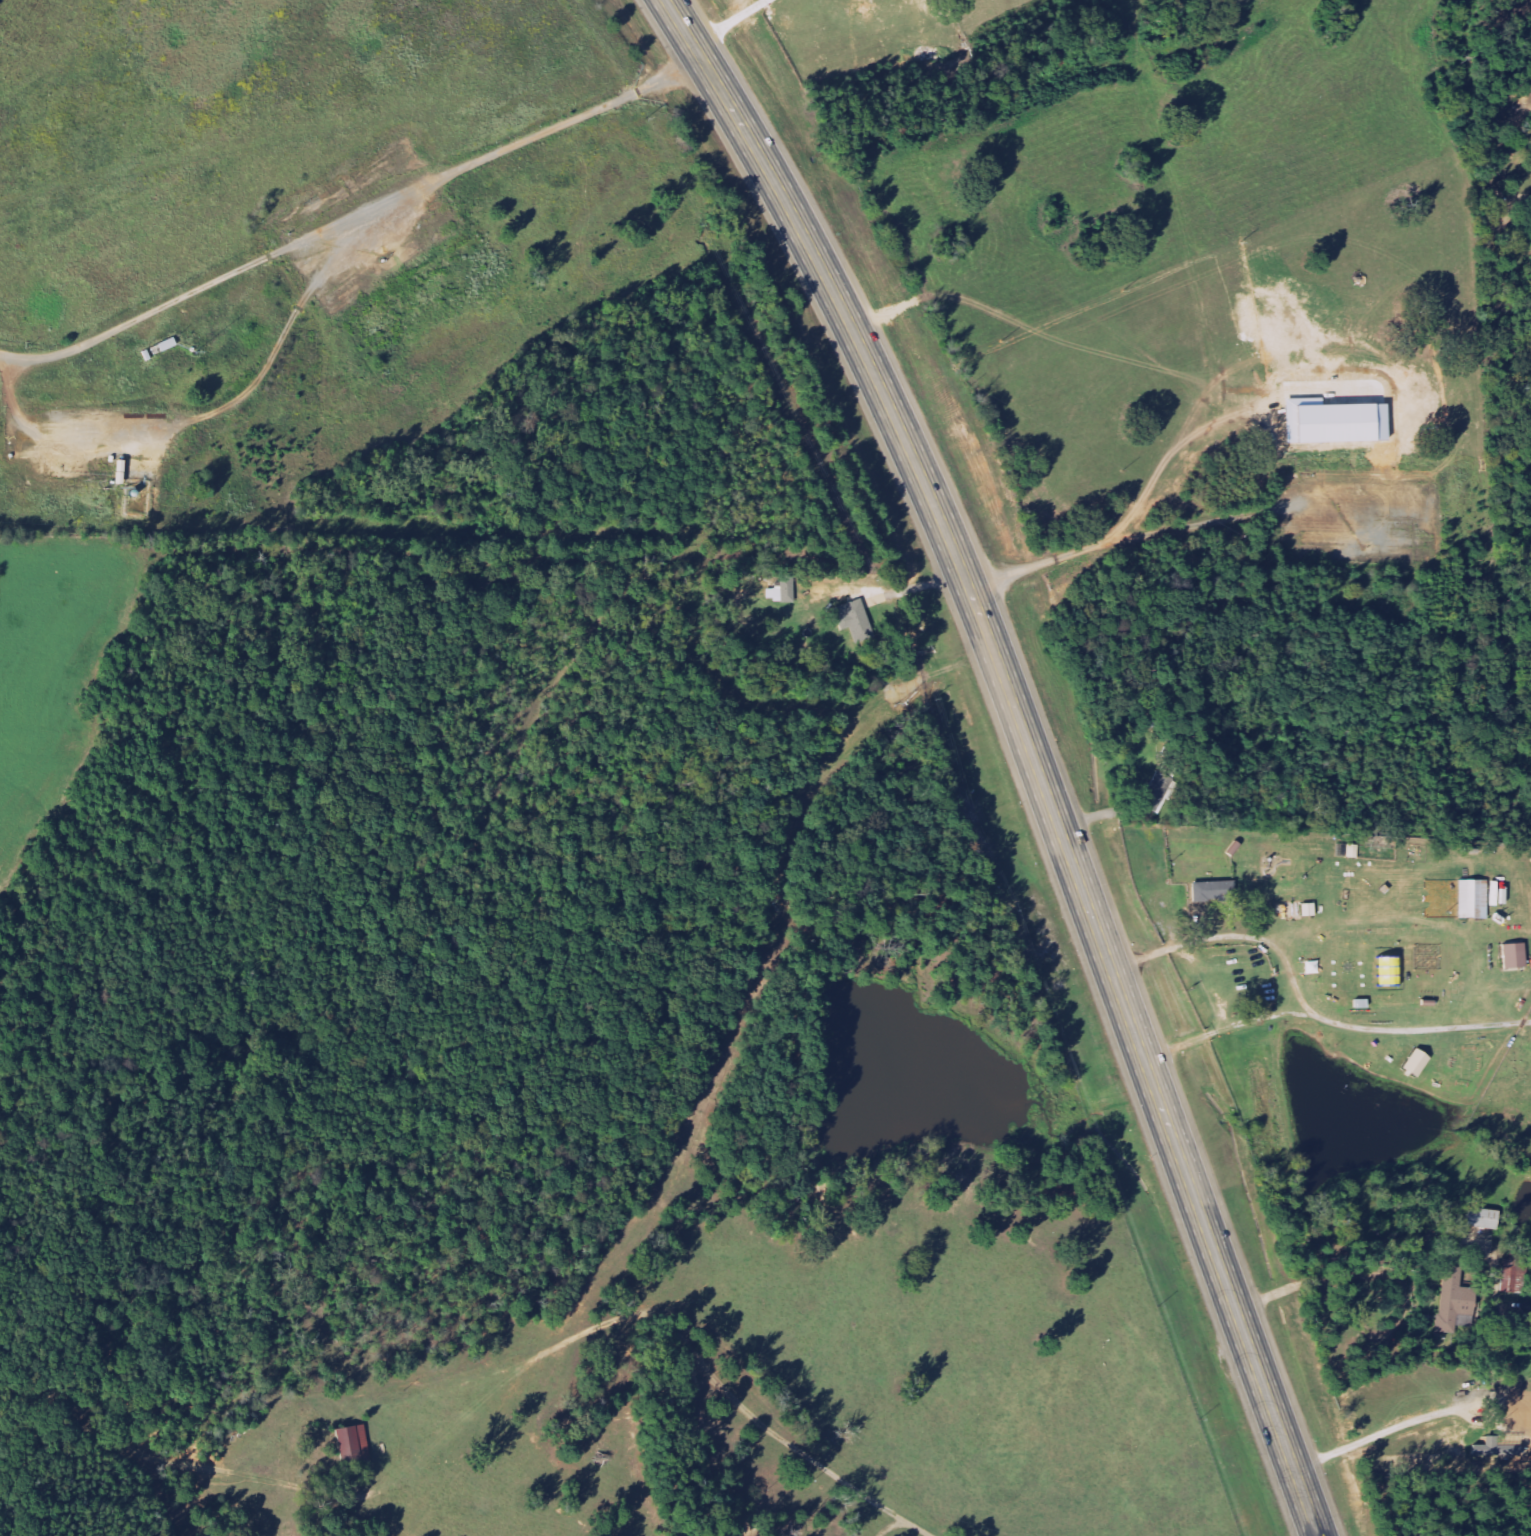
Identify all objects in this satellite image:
building: (783, 591)
building: (856, 618)
road: (1031, 750)
building: (1159, 791)
building: (1354, 851)
building: (1215, 891)
building: (1475, 899)
building: (1516, 956)
building: (1419, 1063)
building: (1485, 1218)
building: (355, 1445)

